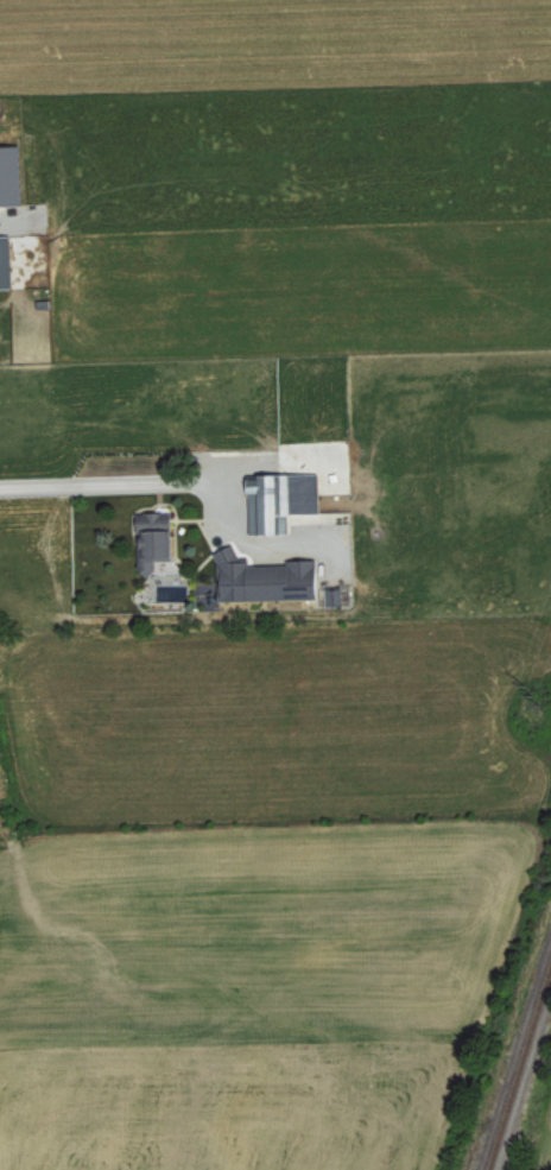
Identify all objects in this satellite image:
building: (12, 175)
building: (6, 261)
road: (114, 483)
building: (284, 500)
building: (158, 538)
building: (271, 578)
building: (336, 595)
power tower: (532, 689)
railway: (515, 1052)

